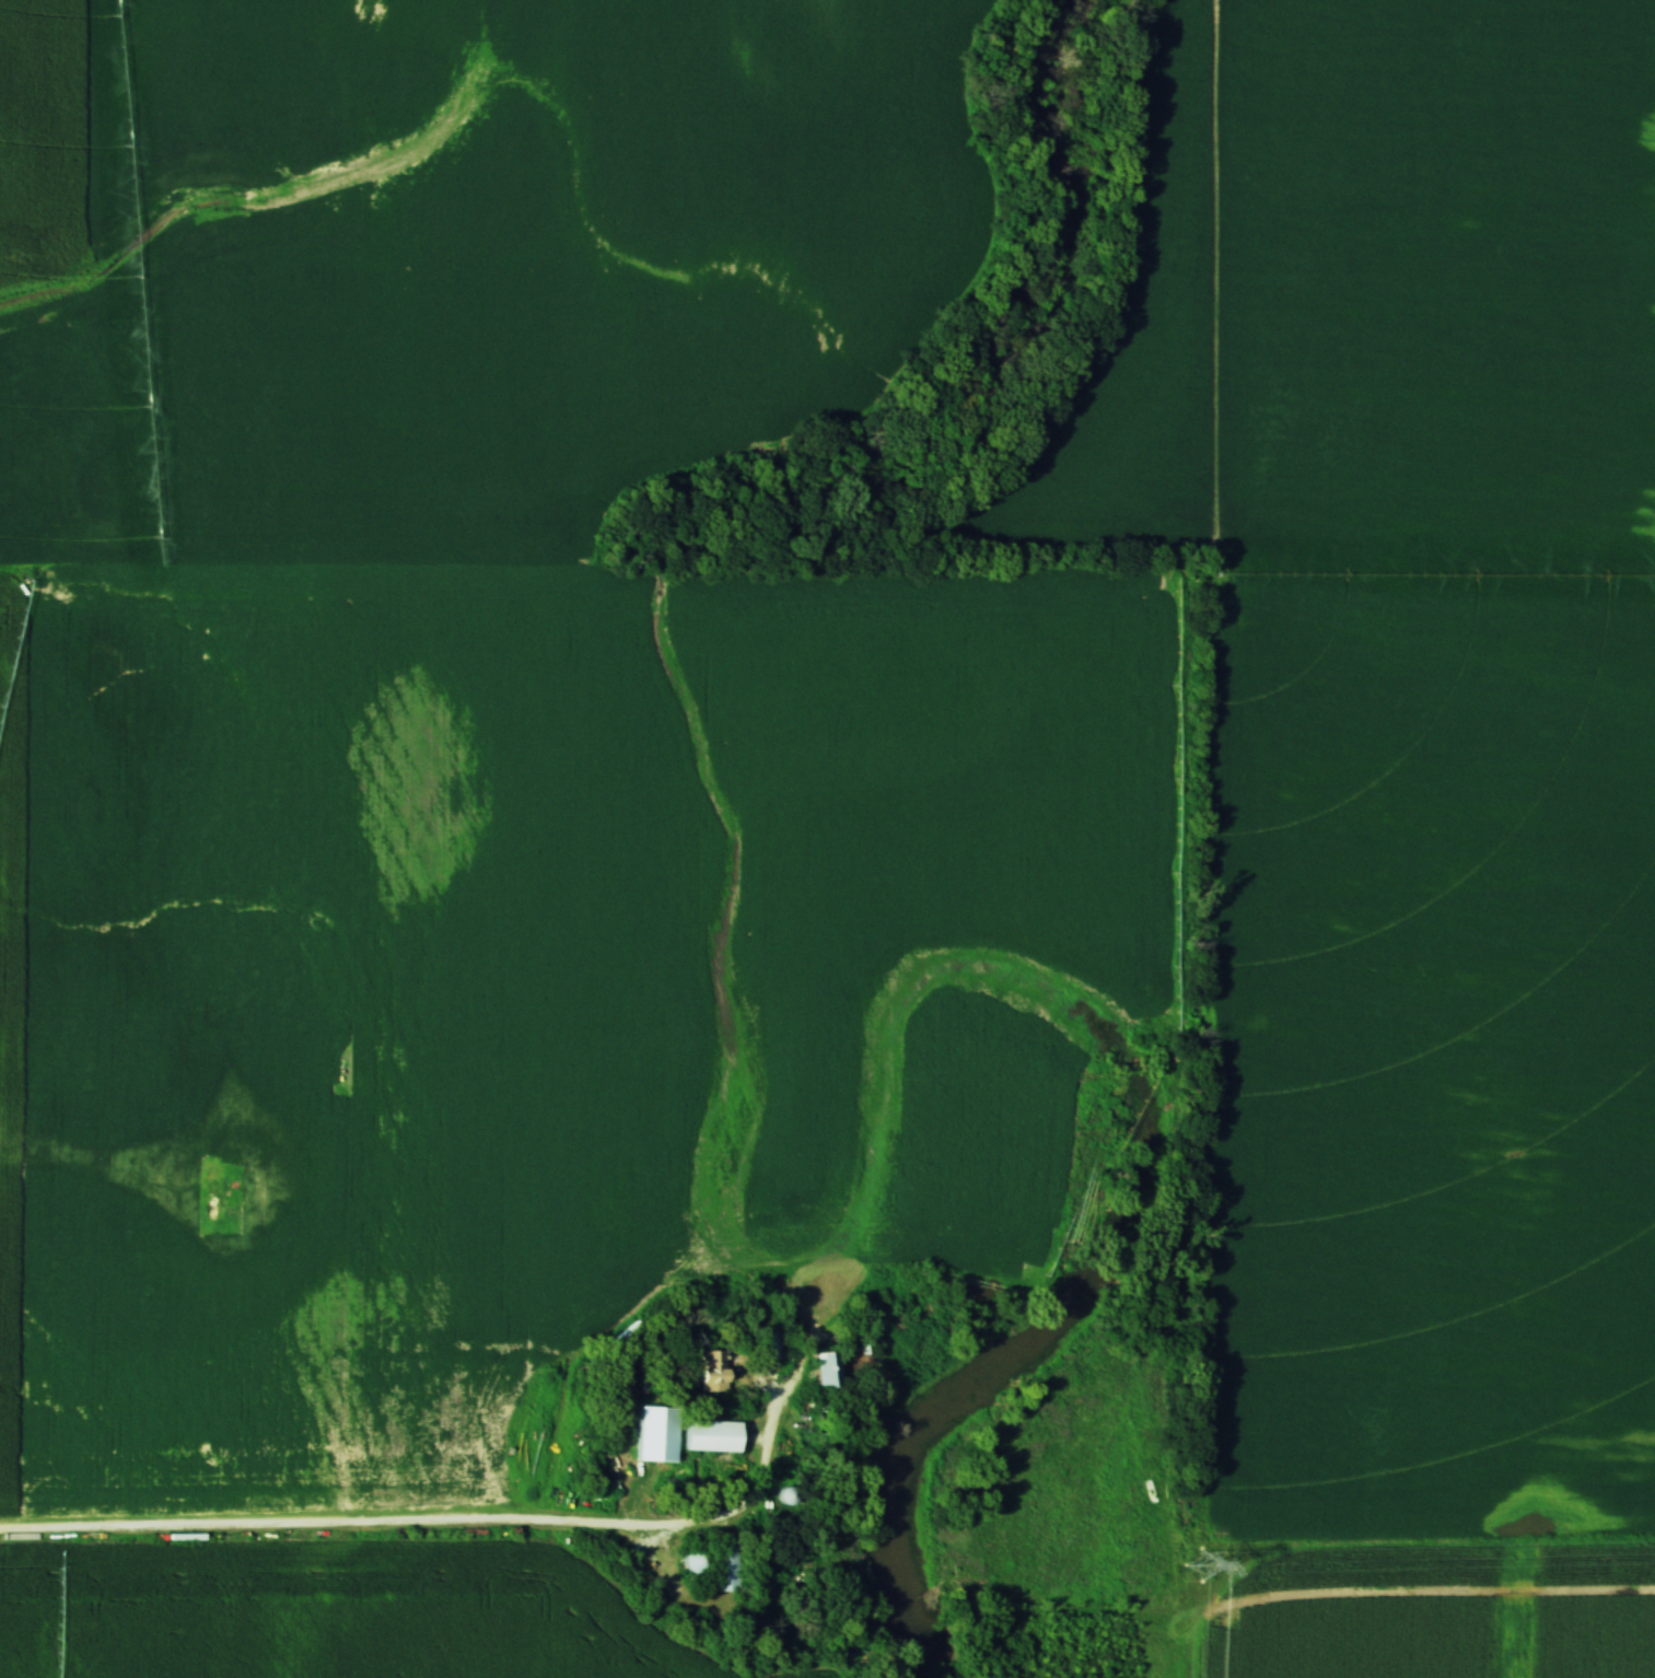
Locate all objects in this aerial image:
building: (777, 1216)
building: (904, 1313)
building: (768, 1343)
building: (823, 1368)
building: (711, 1371)
road: (440, 1520)
building: (264, 1538)
building: (714, 1566)
power tower: (1198, 1568)

